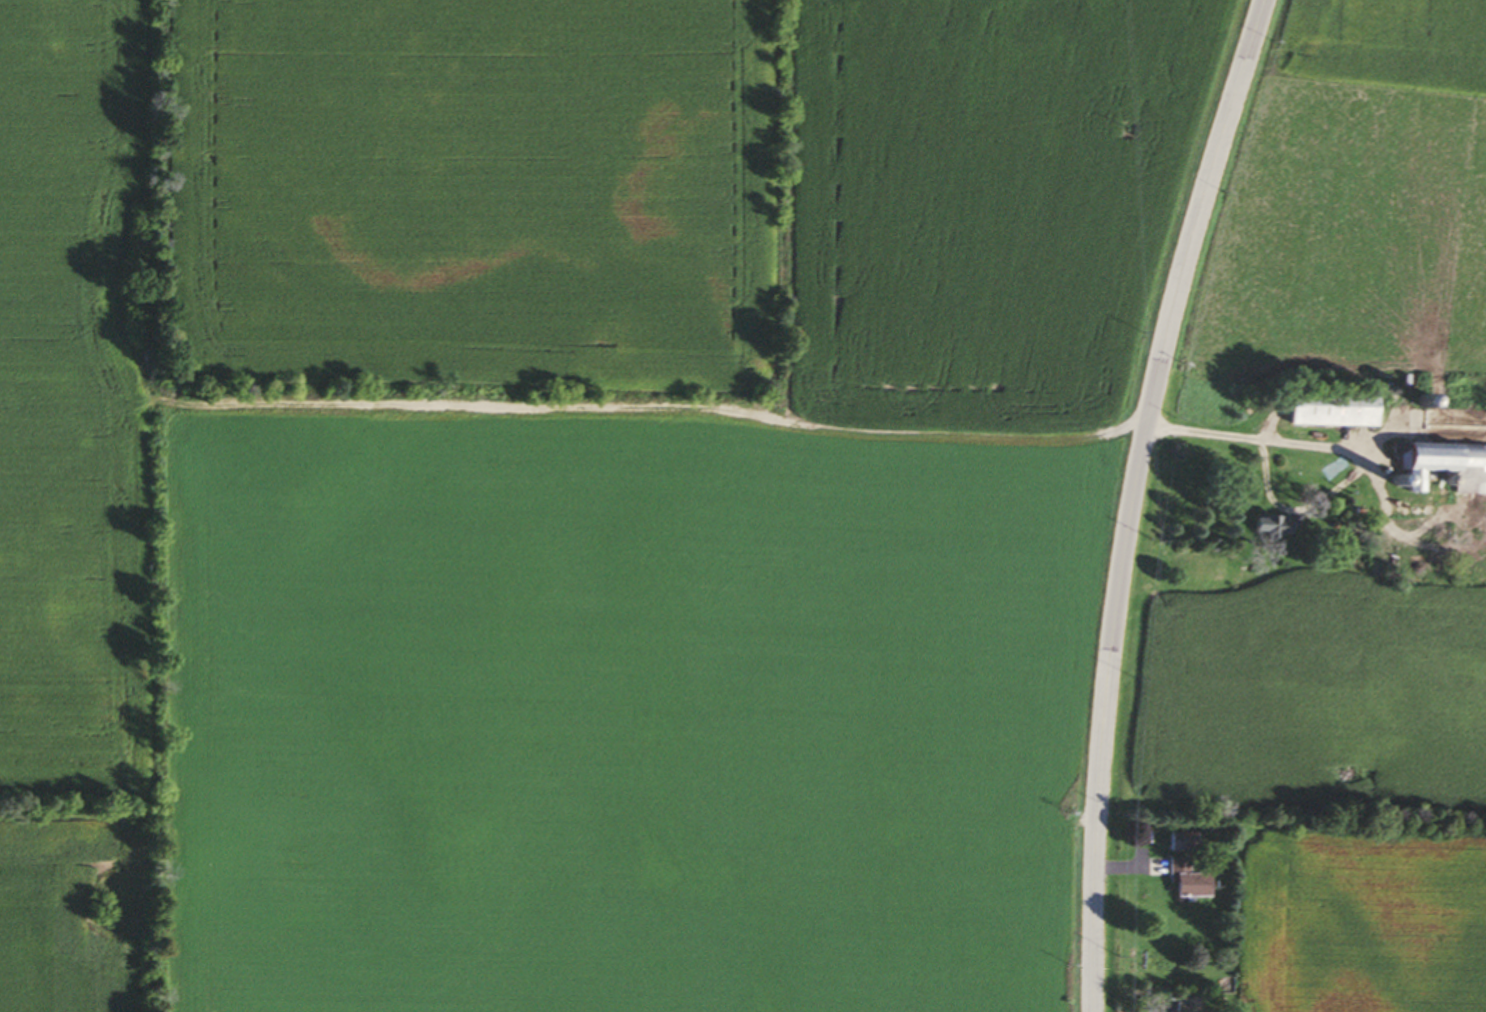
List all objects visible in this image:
building: (1329, 412)
road: (1258, 436)
building: (1439, 461)
road: (1134, 498)
building: (1263, 525)
building: (1179, 841)
building: (1185, 877)
building: (1181, 1003)

